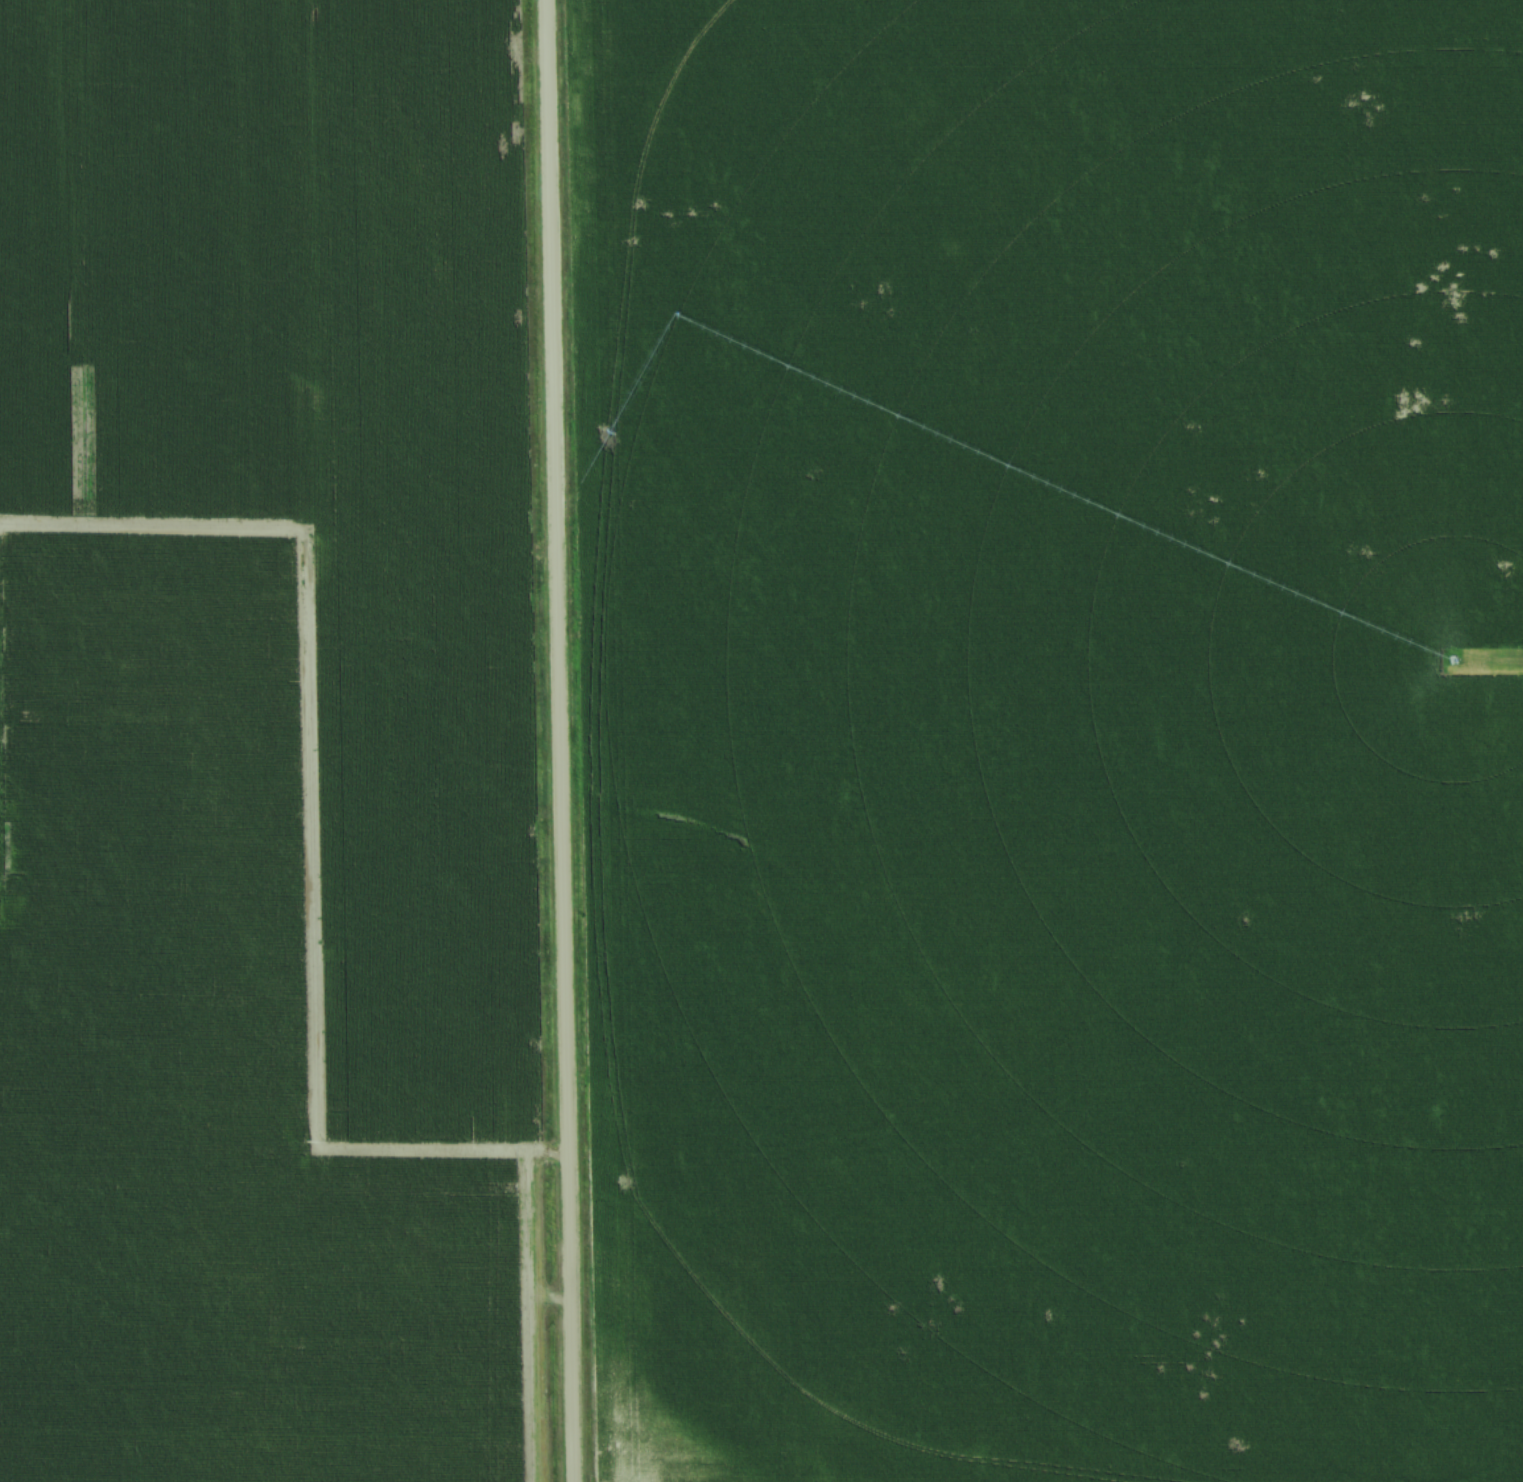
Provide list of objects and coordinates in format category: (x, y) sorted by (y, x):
road: (553, 741)
crop: (202, 1069)

